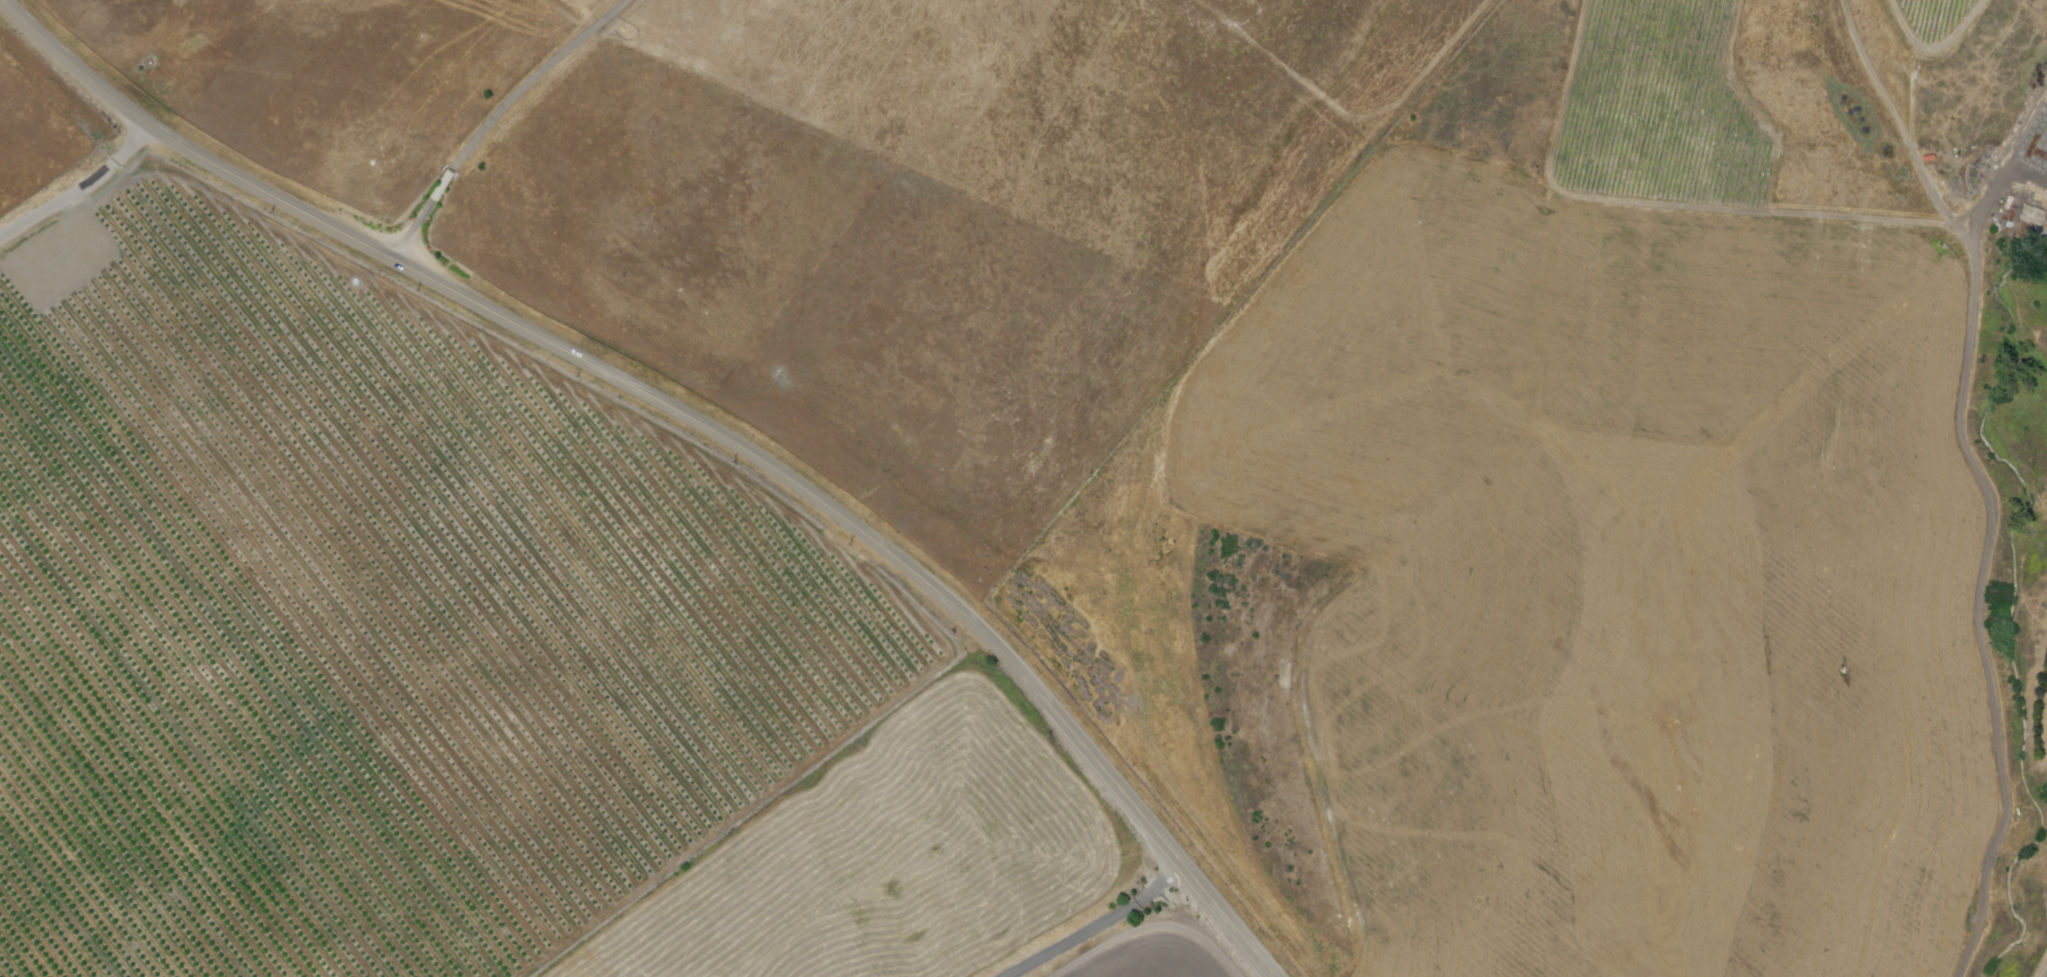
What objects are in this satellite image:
road: (498, 116)
road: (79, 191)
road: (688, 420)
crop: (366, 620)
crop: (894, 861)
road: (1095, 926)
crop: (1160, 950)

